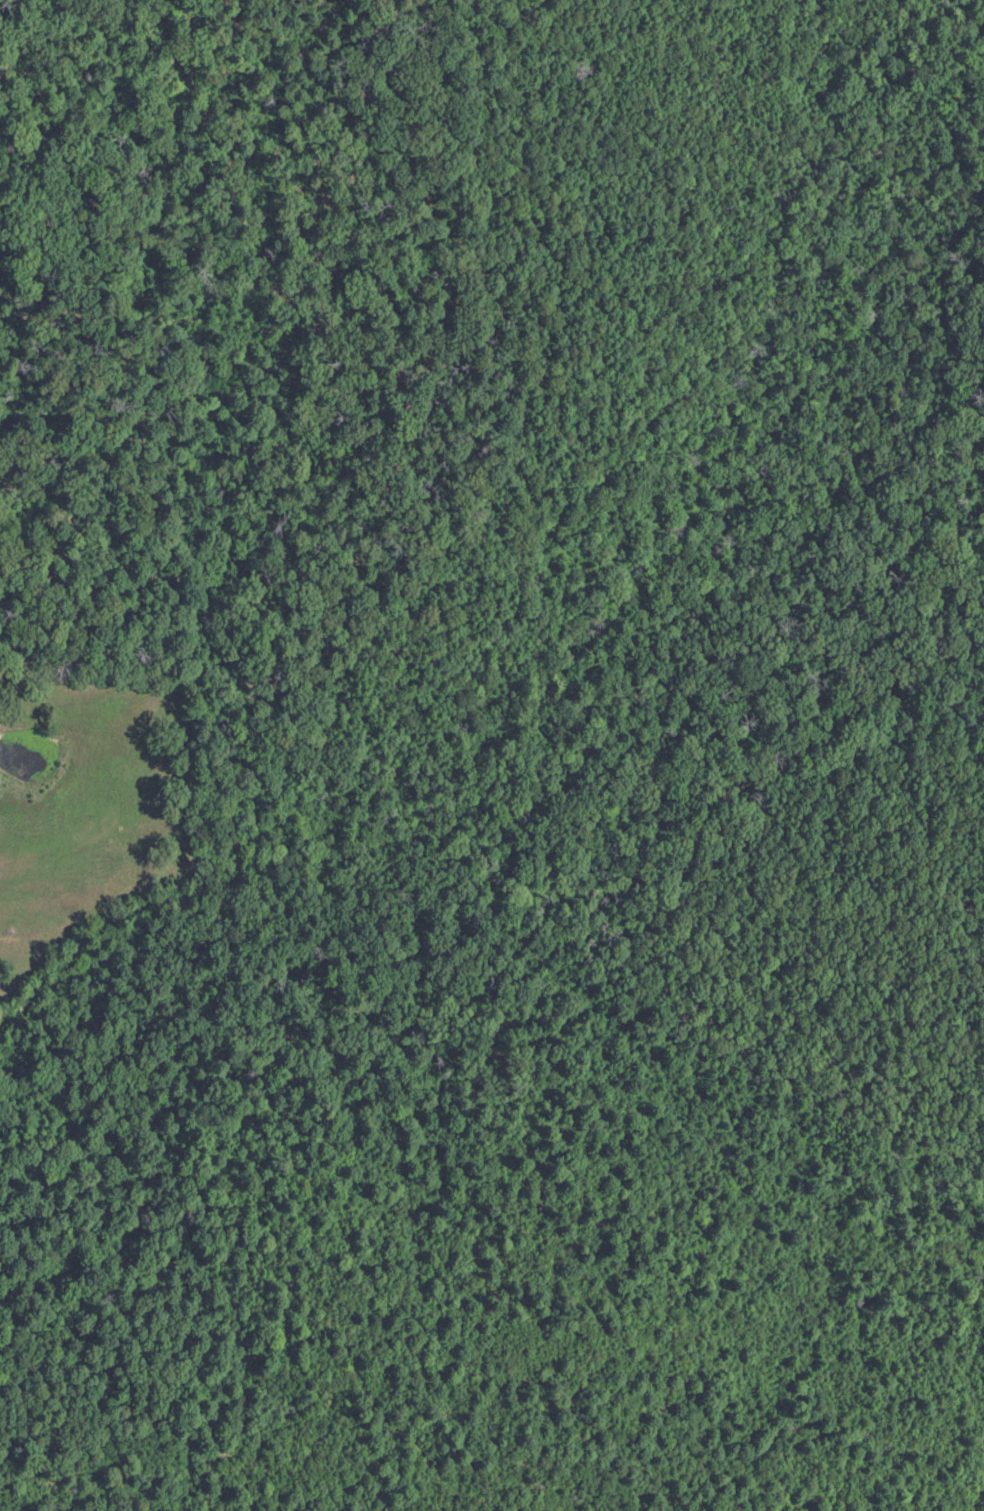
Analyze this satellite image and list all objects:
road: (568, 1270)
road: (478, 1507)

